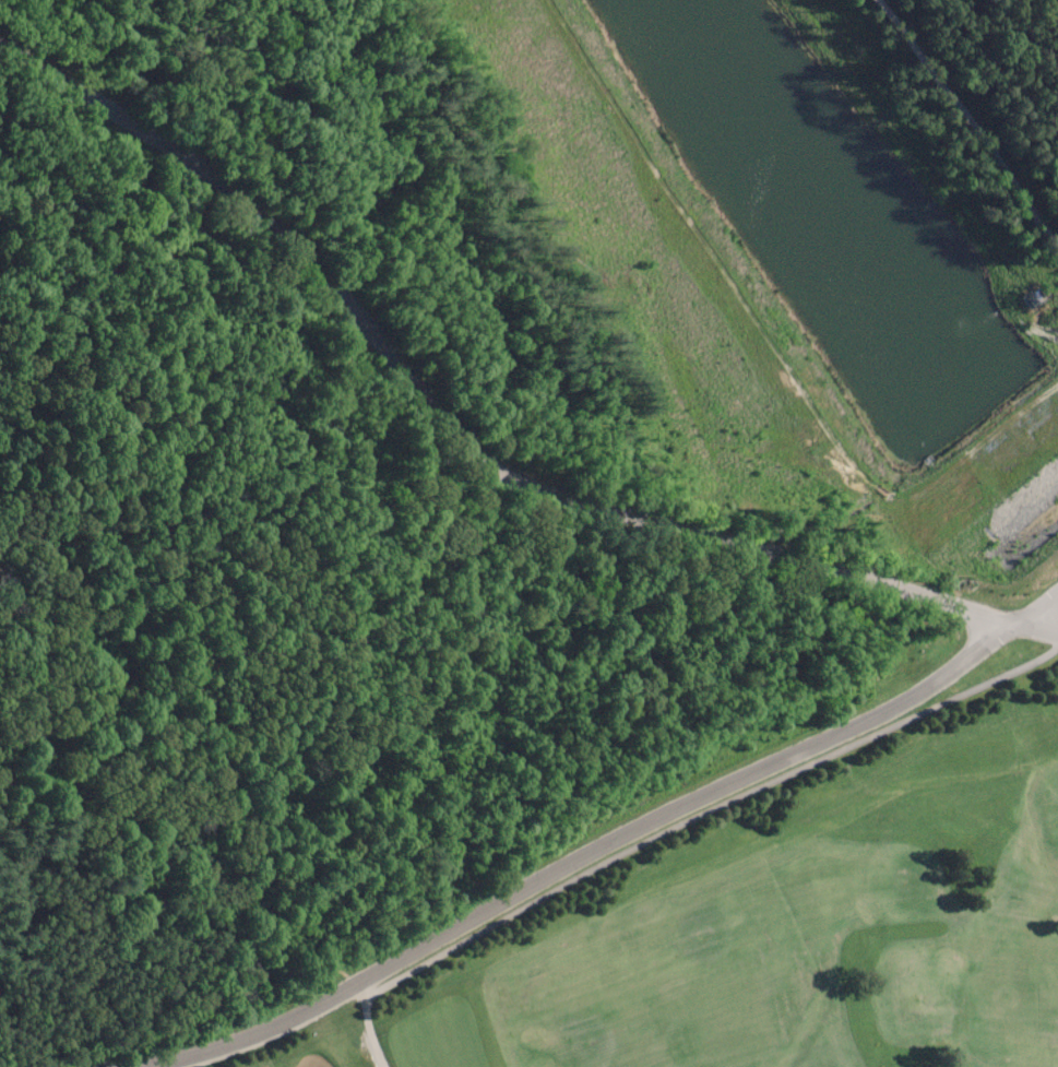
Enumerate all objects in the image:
road: (970, 119)
road: (778, 358)
road: (456, 437)
road: (1045, 606)
road: (1045, 623)
road: (509, 700)
road: (704, 810)
road: (575, 855)
road: (120, 866)
park: (781, 932)
road: (319, 961)
road: (369, 1031)

